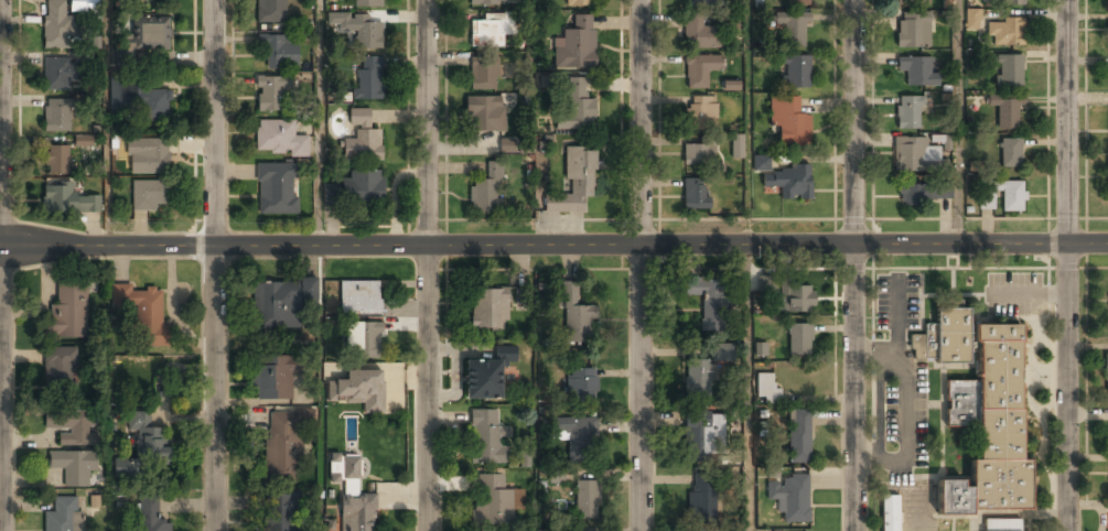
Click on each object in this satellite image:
building: (911, 1)
building: (367, 2)
building: (490, 2)
building: (795, 2)
building: (1005, 2)
building: (580, 3)
building: (703, 3)
building: (84, 7)
building: (270, 11)
building: (970, 18)
building: (340, 20)
building: (56, 24)
building: (790, 26)
building: (912, 30)
building: (1107, 30)
building: (366, 31)
building: (488, 31)
building: (1003, 31)
building: (697, 33)
building: (149, 34)
building: (575, 45)
building: (280, 50)
building: (698, 68)
building: (1007, 71)
building: (794, 72)
building: (916, 72)
building: (57, 73)
building: (484, 74)
building: (368, 77)
building: (728, 86)
building: (271, 94)
building: (152, 105)
building: (574, 107)
building: (1004, 109)
building: (698, 112)
building: (906, 112)
building: (56, 115)
building: (485, 115)
building: (787, 120)
road: (105, 122)
road: (534, 122)
road: (957, 122)
road: (318, 123)
building: (933, 138)
building: (279, 139)
building: (362, 139)
building: (83, 140)
building: (944, 142)
building: (507, 145)
building: (734, 145)
building: (698, 152)
building: (1008, 152)
building: (914, 155)
building: (147, 156)
building: (56, 160)
building: (759, 163)
building: (1106, 177)
building: (573, 182)
building: (788, 182)
building: (275, 188)
building: (362, 188)
building: (486, 191)
building: (919, 193)
building: (331, 194)
building: (691, 194)
building: (1000, 194)
building: (150, 195)
building: (66, 201)
building: (967, 209)
road: (553, 246)
road: (3, 264)
road: (215, 264)
road: (854, 264)
road: (1067, 264)
road: (428, 265)
road: (641, 265)
road: (745, 265)
parking lot: (1013, 294)
building: (520, 295)
building: (359, 296)
building: (795, 296)
building: (710, 302)
parking lot: (895, 302)
building: (280, 303)
building: (488, 307)
building: (68, 310)
building: (142, 312)
building: (577, 317)
building: (798, 337)
building: (363, 340)
building: (759, 348)
building: (723, 353)
building: (61, 369)
building: (1106, 372)
building: (488, 373)
building: (271, 378)
building: (697, 380)
building: (581, 383)
building: (766, 389)
building: (362, 390)
building: (977, 414)
parking lot: (897, 419)
building: (71, 427)
building: (701, 434)
building: (147, 435)
building: (577, 436)
building: (486, 437)
building: (798, 437)
building: (282, 447)
building: (73, 467)
building: (556, 476)
building: (790, 498)
building: (354, 499)
building: (702, 499)
building: (587, 500)
building: (494, 501)
building: (901, 505)
building: (280, 512)
building: (63, 514)
building: (150, 516)
building: (1000, 524)
building: (544, 530)

